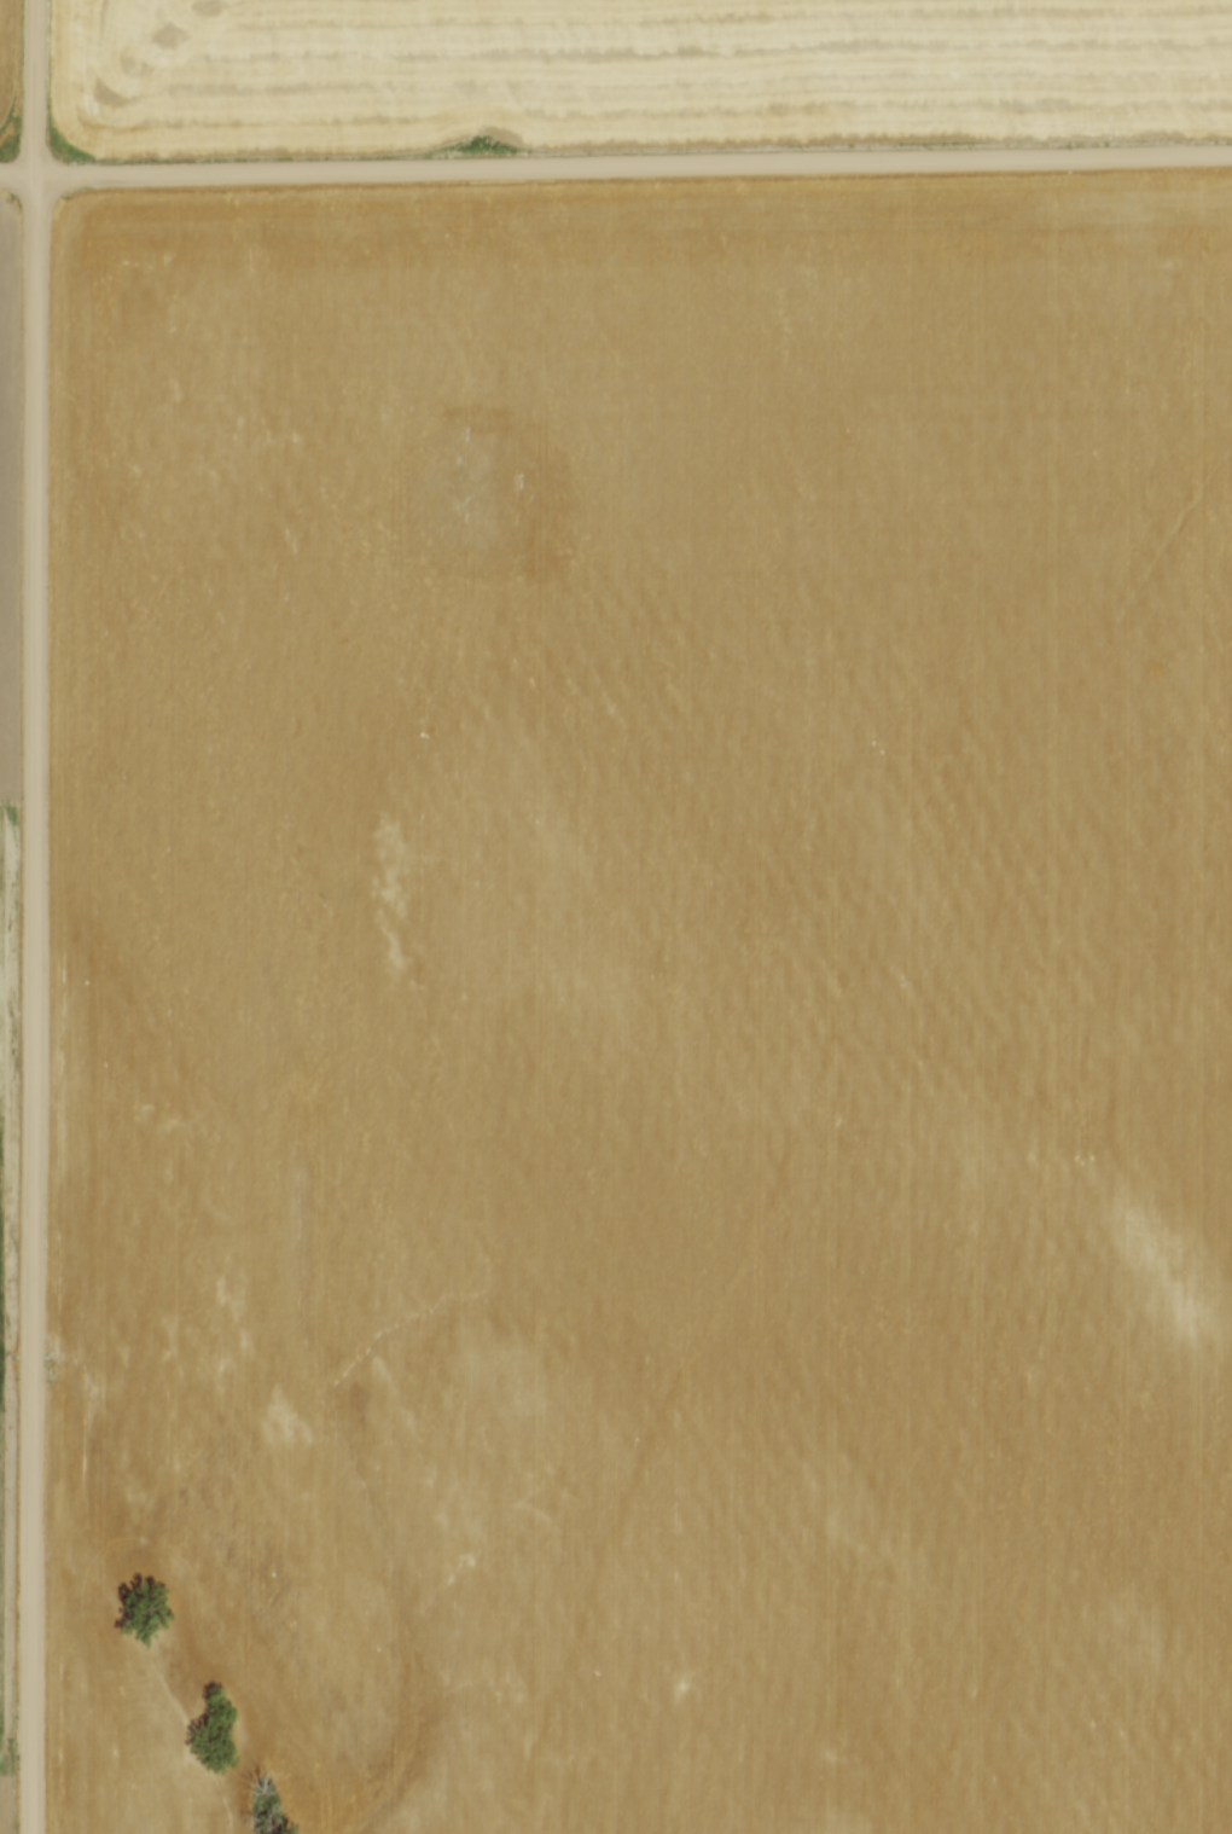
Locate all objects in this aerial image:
crop: (7, 64)
crop: (630, 70)
road: (616, 167)
crop: (6, 846)
road: (39, 917)
crop: (649, 1005)

